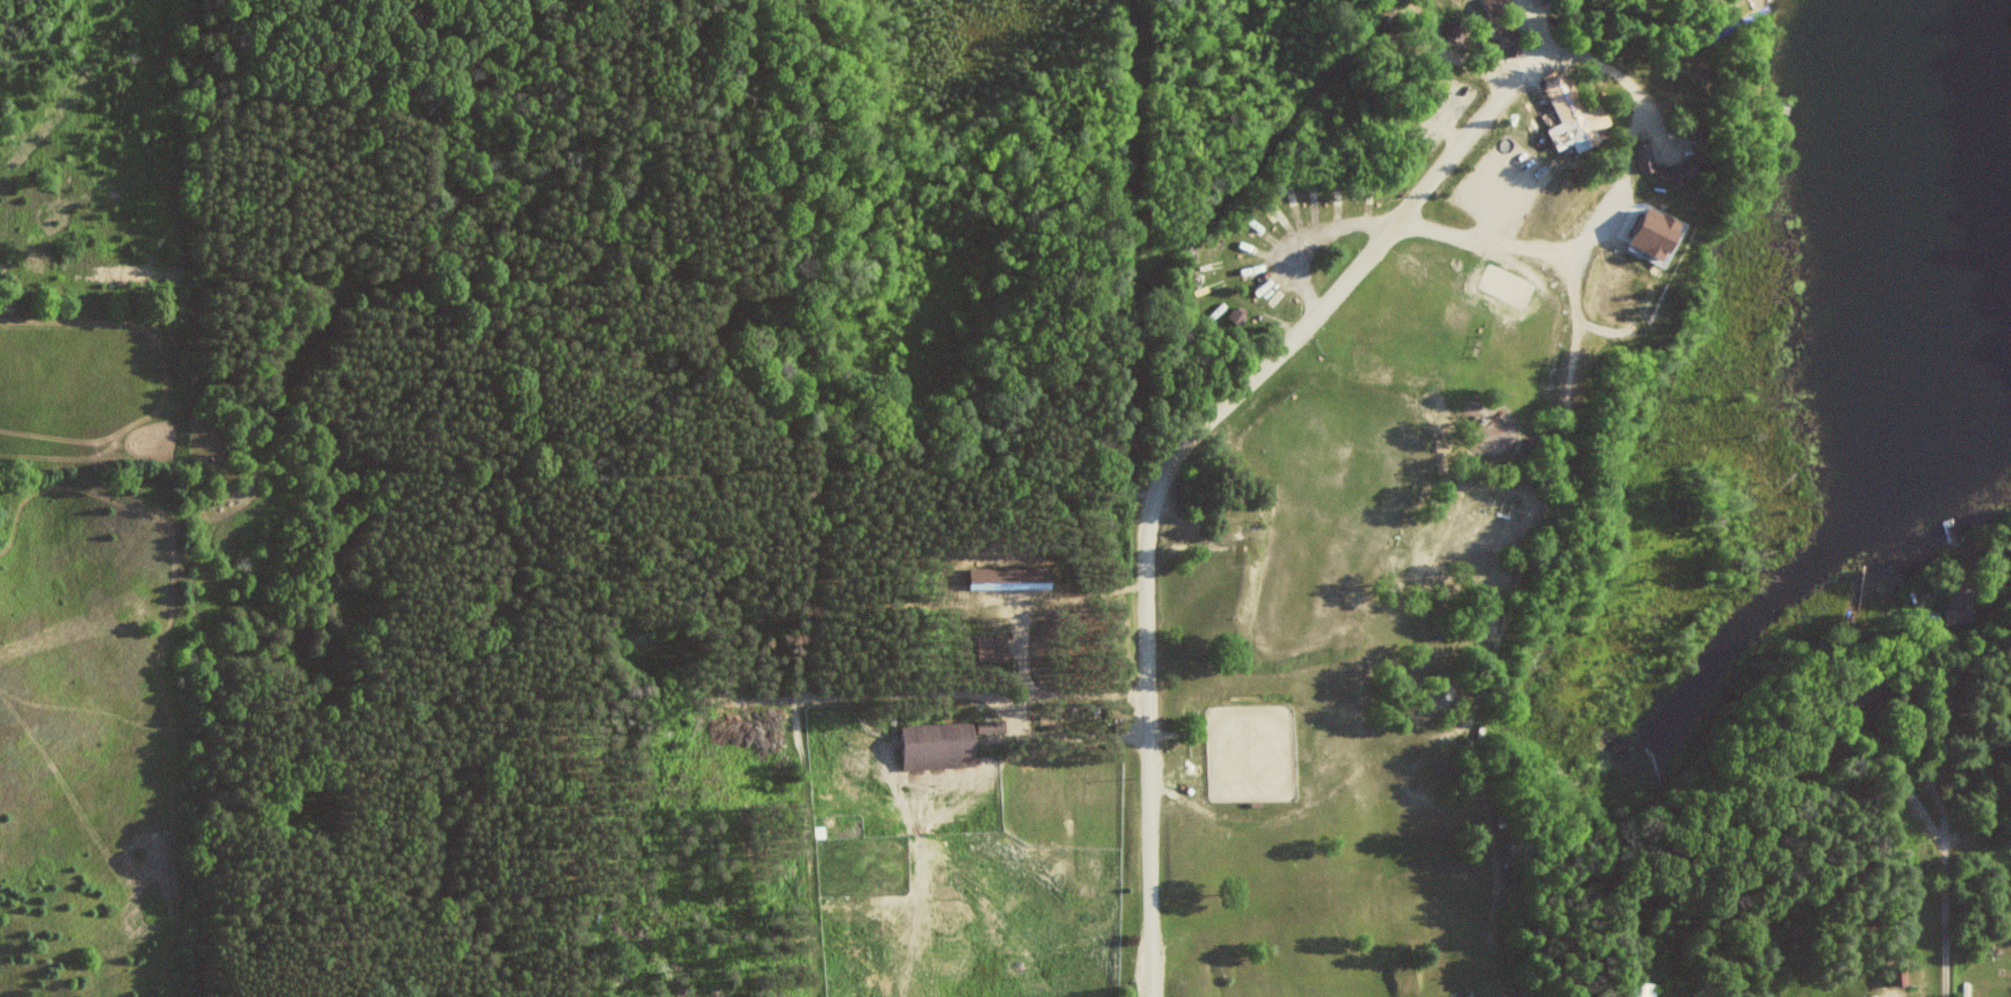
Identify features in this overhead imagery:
building: (1543, 0)
building: (1511, 42)
building: (1575, 114)
building: (1703, 152)
building: (1647, 156)
building: (1681, 171)
road: (1198, 427)
building: (1021, 581)
building: (1962, 607)
building: (1864, 691)
building: (946, 742)
building: (1901, 977)
building: (1644, 990)
building: (1532, 993)

